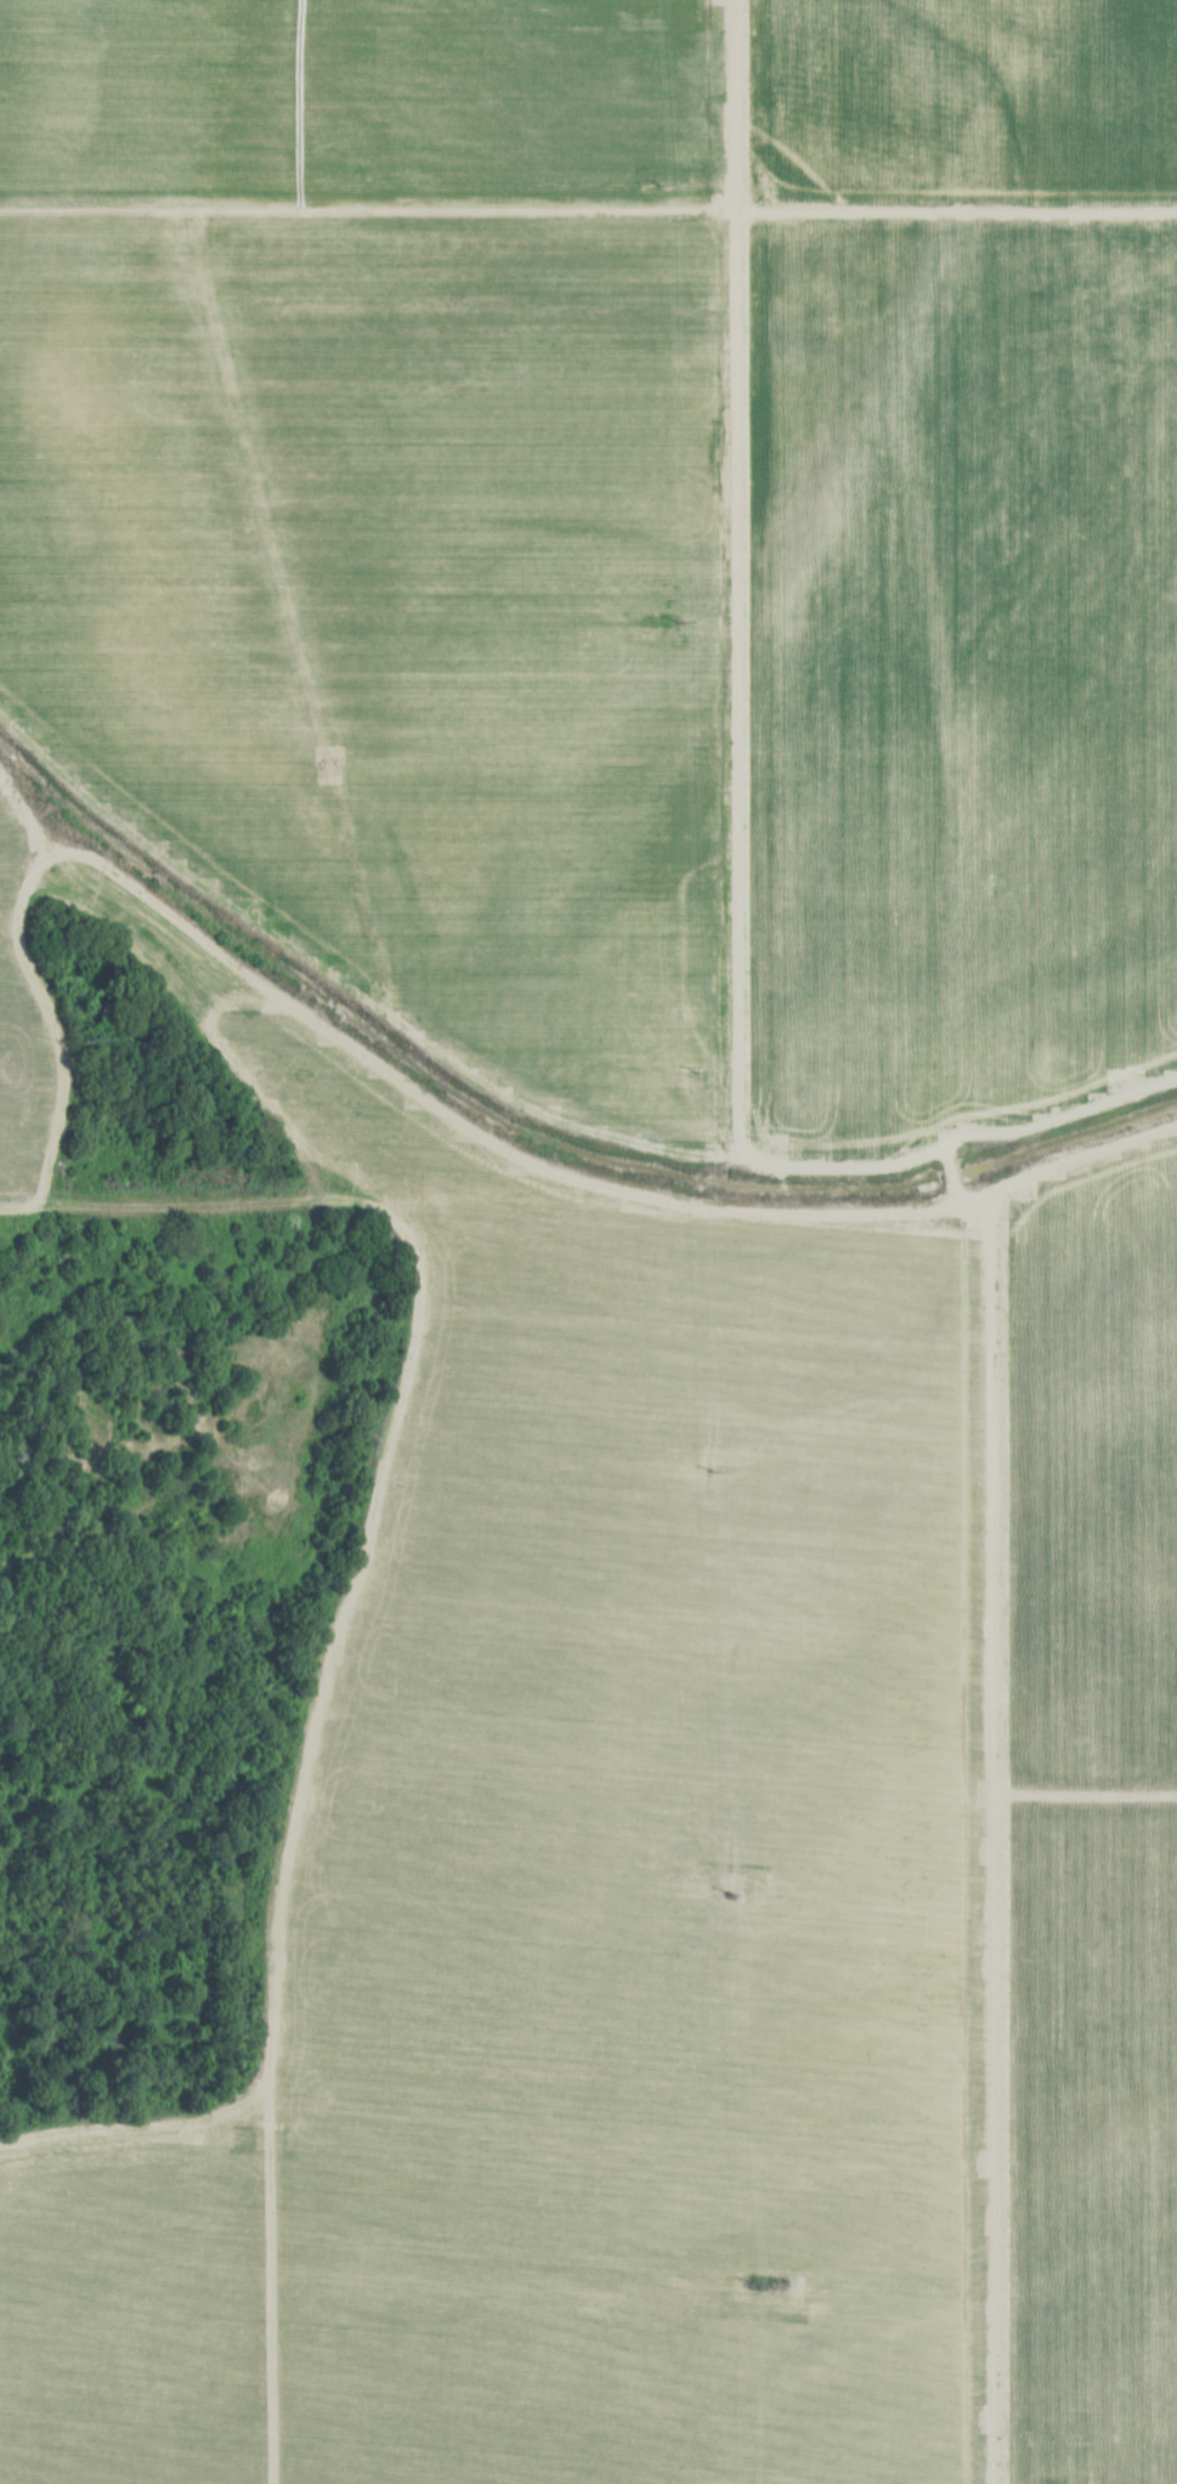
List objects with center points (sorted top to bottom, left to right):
road: (187, 1199)

